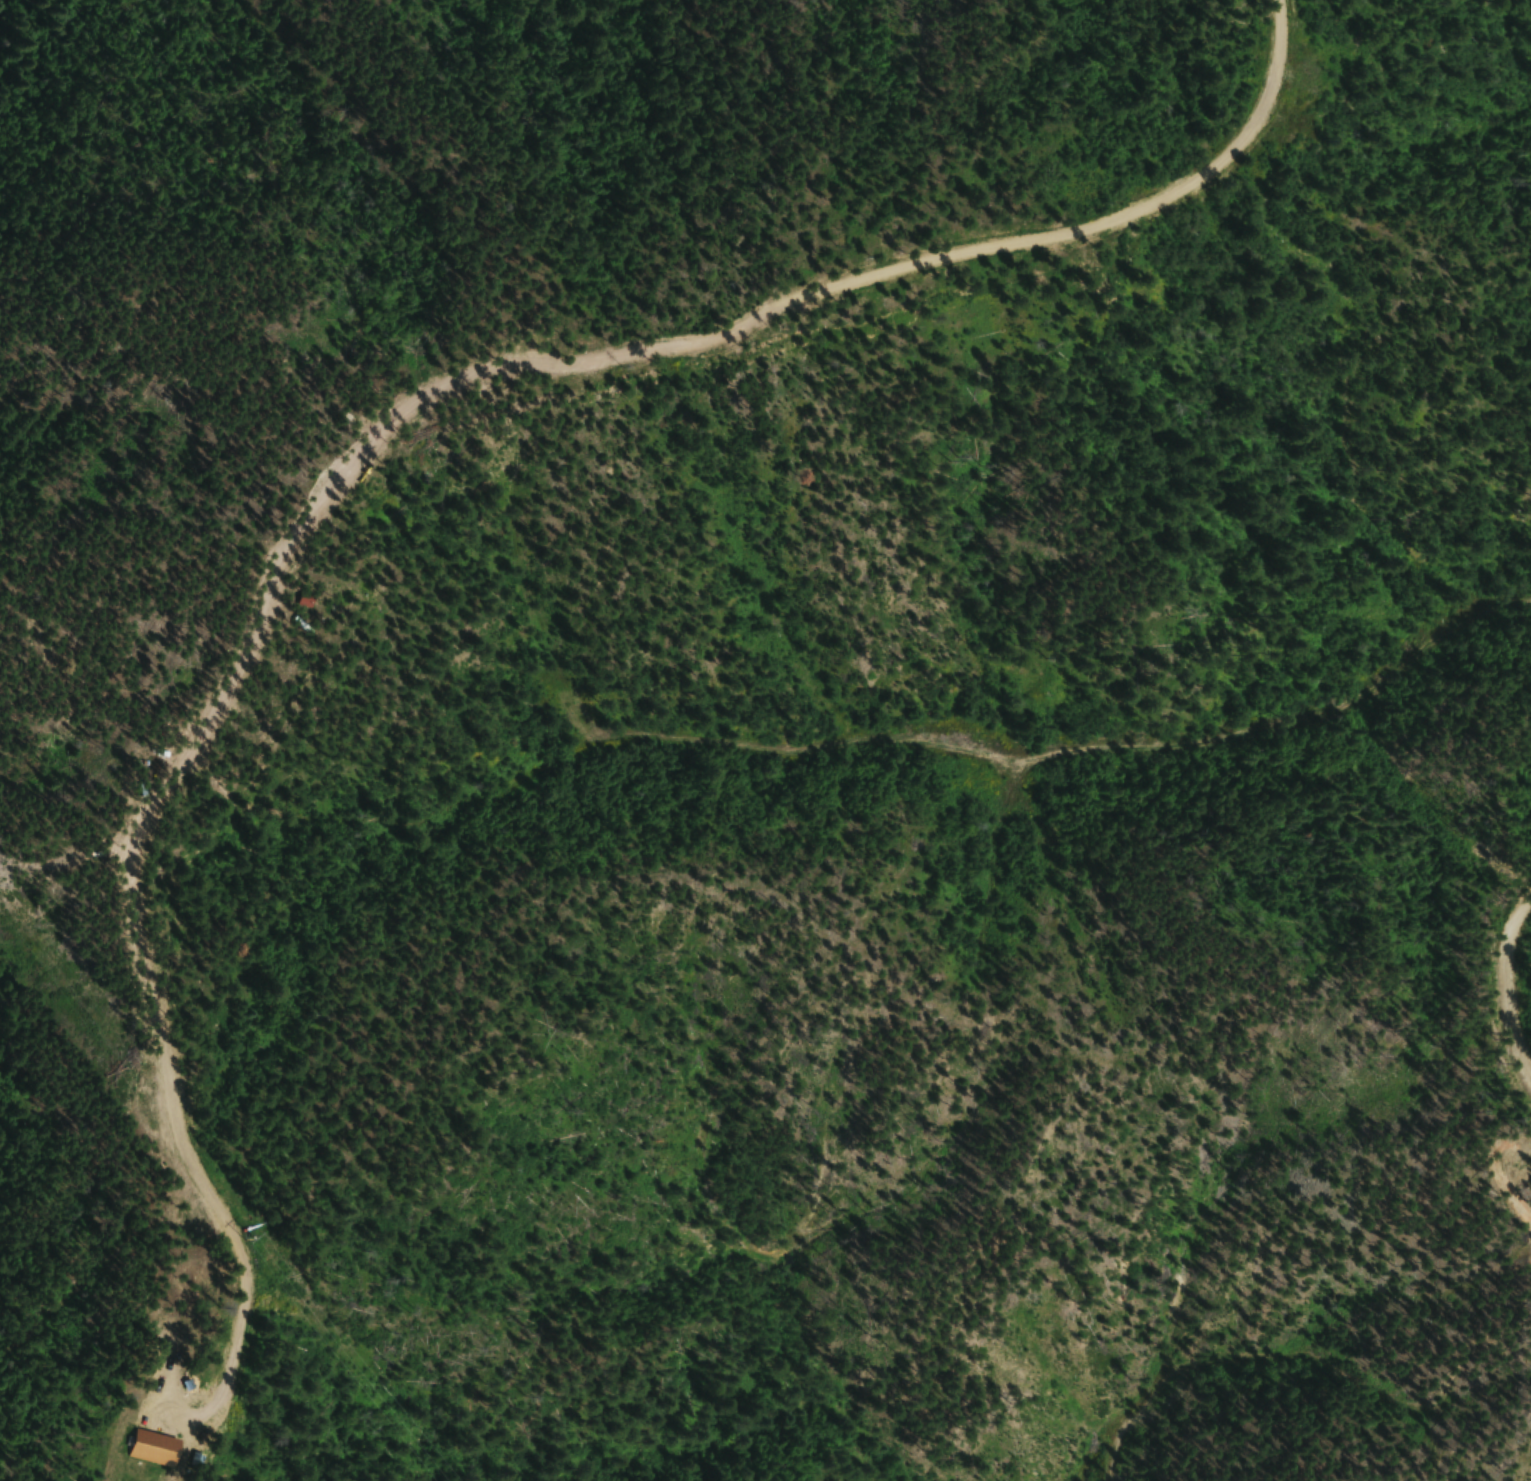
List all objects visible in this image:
road: (381, 433)
building: (307, 600)
road: (1504, 978)
building: (157, 1449)

